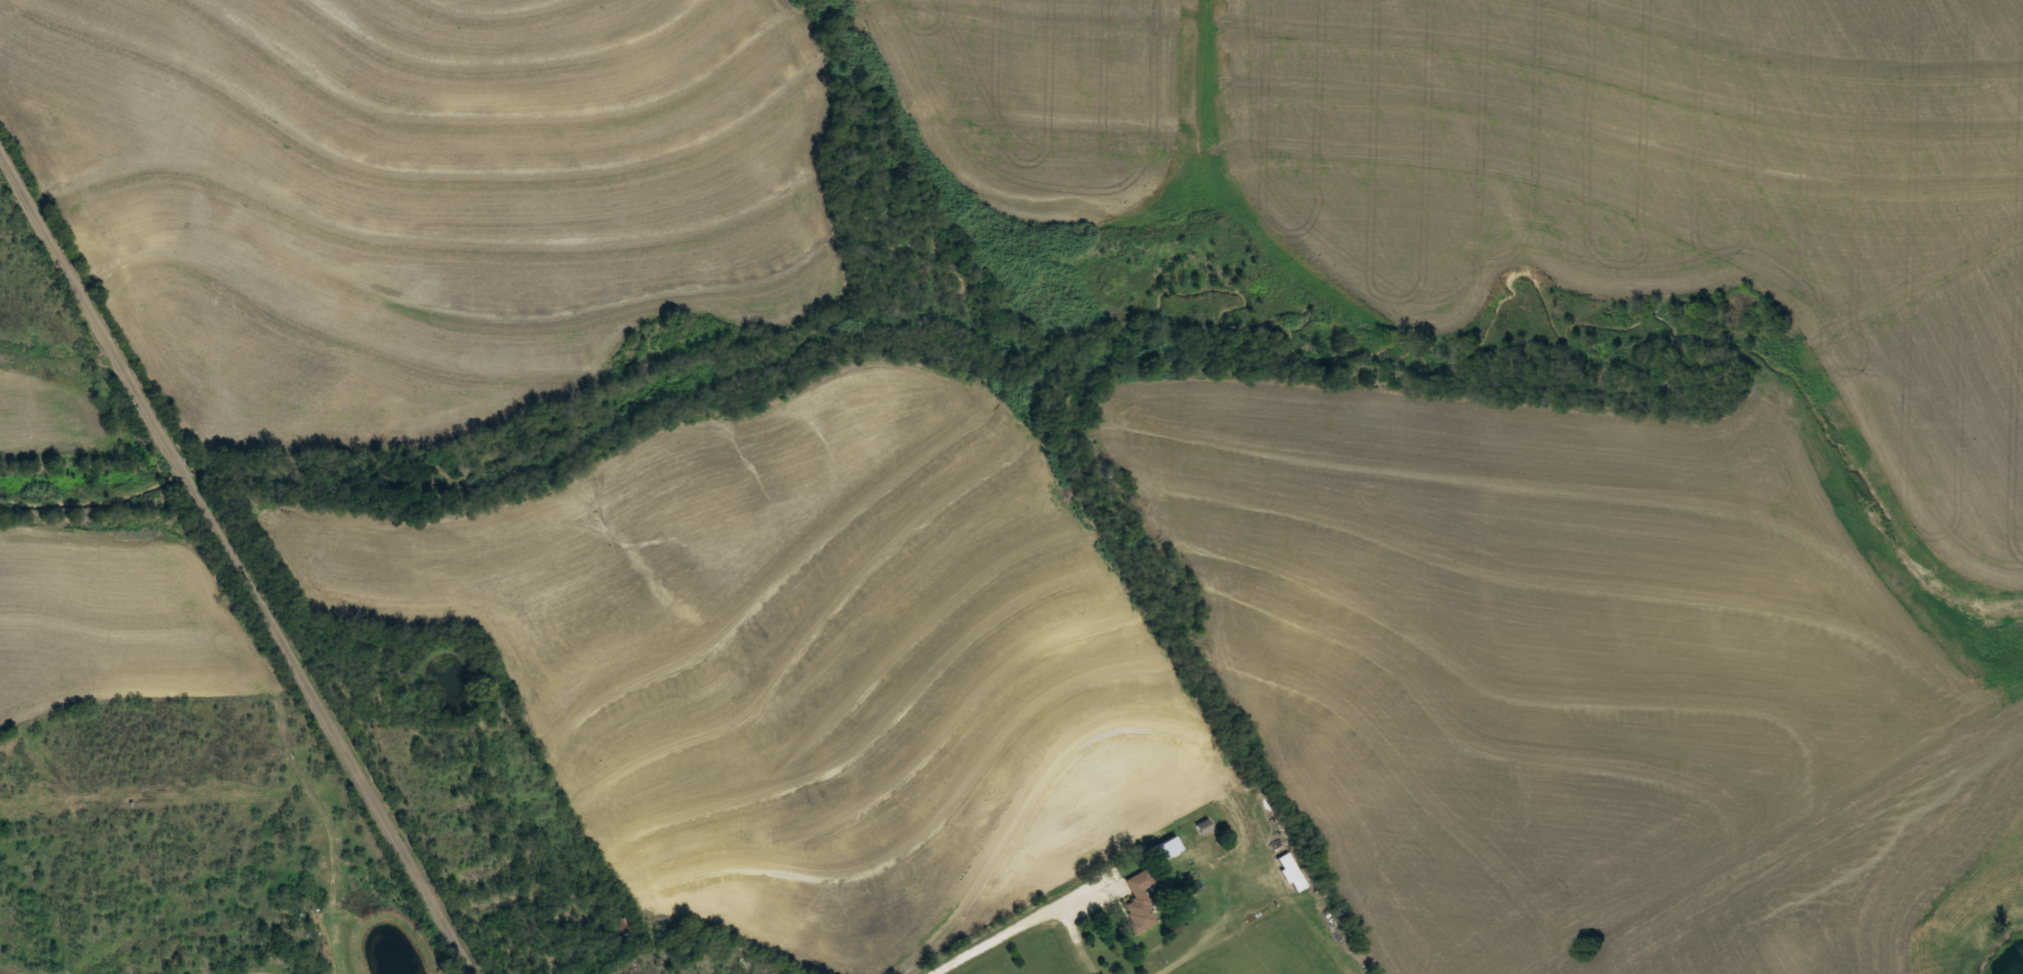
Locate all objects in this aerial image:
road: (240, 555)
building: (1291, 872)
building: (1141, 903)
building: (625, 925)

